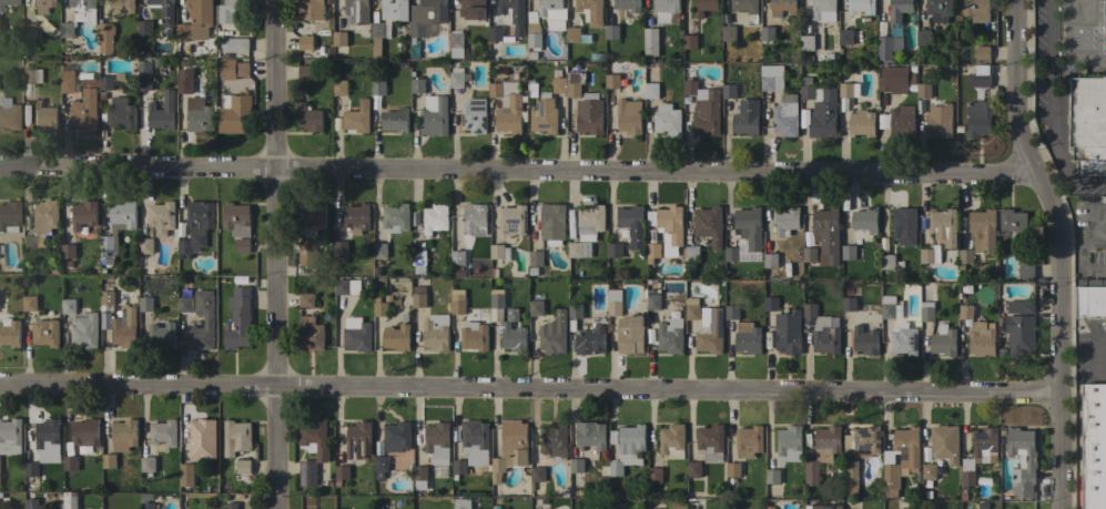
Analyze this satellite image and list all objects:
building: (7, 3)
building: (120, 4)
building: (43, 6)
building: (589, 6)
building: (628, 6)
building: (704, 7)
building: (861, 7)
building: (747, 8)
building: (782, 8)
building: (473, 9)
building: (899, 9)
building: (163, 10)
building: (232, 10)
building: (311, 10)
building: (394, 10)
building: (666, 10)
building: (823, 10)
building: (940, 10)
building: (977, 10)
building: (357, 11)
building: (552, 13)
building: (514, 14)
building: (427, 16)
building: (79, 17)
road: (1048, 20)
building: (196, 21)
building: (1104, 27)
building: (144, 28)
building: (28, 29)
building: (611, 32)
building: (729, 33)
building: (768, 33)
building: (498, 34)
building: (572, 34)
building: (378, 35)
building: (845, 37)
building: (105, 38)
building: (339, 38)
building: (534, 38)
building: (923, 38)
building: (689, 41)
building: (305, 43)
building: (650, 43)
building: (806, 43)
building: (235, 44)
building: (456, 44)
road: (1069, 45)
building: (887, 48)
building: (982, 53)
building: (233, 69)
building: (305, 72)
building: (31, 75)
building: (144, 75)
building: (456, 78)
building: (771, 78)
building: (893, 80)
building: (611, 81)
building: (67, 82)
building: (105, 83)
building: (576, 83)
building: (417, 85)
building: (559, 85)
building: (183, 86)
building: (339, 88)
building: (378, 88)
building: (806, 89)
building: (848, 89)
building: (495, 90)
building: (923, 90)
building: (651, 91)
building: (729, 91)
rooftop solar panel: (475, 102)
building: (978, 104)
rooftop solar panel: (476, 109)
building: (703, 109)
building: (84, 110)
building: (9, 113)
building: (121, 113)
building: (162, 113)
building: (235, 114)
building: (544, 114)
building: (589, 114)
building: (823, 114)
building: (43, 115)
building: (474, 115)
building: (509, 115)
building: (785, 115)
building: (434, 116)
building: (629, 116)
building: (357, 118)
building: (747, 118)
building: (310, 119)
building: (200, 120)
building: (395, 120)
rooftop solar panel: (463, 120)
building: (668, 120)
building: (899, 122)
rooftop solar panel: (484, 123)
building: (862, 123)
building: (938, 123)
building: (1088, 124)
rooftop solar panel: (468, 125)
road: (1053, 129)
rooftop solar panel: (478, 131)
road: (516, 173)
building: (1104, 200)
building: (83, 215)
building: (9, 216)
building: (122, 216)
building: (311, 217)
building: (356, 218)
building: (395, 218)
building: (435, 218)
building: (236, 220)
building: (475, 220)
building: (162, 221)
building: (513, 221)
building: (865, 221)
building: (590, 222)
building: (785, 222)
building: (824, 222)
building: (903, 222)
building: (1013, 223)
building: (41, 224)
building: (632, 224)
building: (668, 224)
building: (552, 225)
building: (709, 225)
building: (749, 226)
building: (943, 226)
building: (195, 227)
building: (1105, 230)
building: (983, 231)
road: (1103, 238)
building: (242, 245)
building: (145, 246)
building: (339, 247)
building: (106, 250)
building: (579, 250)
building: (613, 250)
road: (1055, 250)
building: (68, 251)
building: (379, 251)
building: (652, 251)
building: (308, 252)
building: (500, 252)
building: (848, 252)
road: (277, 254)
building: (692, 254)
building: (731, 254)
building: (809, 254)
building: (930, 255)
building: (965, 256)
road: (1078, 256)
building: (457, 257)
building: (536, 258)
building: (418, 261)
building: (770, 261)
building: (887, 262)
building: (1026, 271)
building: (456, 274)
building: (494, 274)
building: (346, 286)
building: (418, 297)
building: (106, 298)
building: (1090, 298)
building: (305, 299)
building: (652, 299)
building: (497, 301)
building: (1, 303)
building: (29, 303)
building: (615, 303)
building: (145, 304)
building: (457, 304)
building: (770, 304)
building: (849, 304)
building: (68, 306)
building: (536, 306)
building: (1022, 306)
building: (379, 308)
building: (890, 308)
building: (692, 309)
building: (575, 311)
building: (809, 311)
building: (731, 312)
building: (926, 312)
building: (965, 312)
building: (510, 315)
rooftop solar panel: (712, 317)
building: (209, 318)
building: (237, 319)
rooftop solar panel: (720, 327)
rooftop solar panel: (714, 329)
building: (124, 330)
building: (710, 330)
building: (85, 332)
building: (9, 333)
building: (45, 333)
building: (436, 333)
building: (788, 333)
building: (311, 334)
building: (630, 334)
building: (162, 335)
building: (356, 335)
building: (552, 335)
building: (825, 335)
building: (1019, 335)
building: (474, 336)
building: (670, 336)
building: (396, 337)
building: (514, 337)
building: (748, 338)
building: (903, 339)
building: (590, 340)
building: (865, 340)
building: (943, 340)
building: (983, 344)
road: (528, 388)
building: (85, 432)
building: (163, 432)
building: (124, 435)
building: (590, 435)
building: (202, 436)
building: (10, 437)
building: (48, 437)
building: (397, 437)
building: (236, 438)
building: (437, 439)
building: (358, 440)
building: (555, 440)
building: (672, 440)
building: (864, 440)
building: (748, 441)
building: (475, 442)
building: (710, 444)
building: (789, 444)
building: (945, 444)
building: (985, 446)
building: (1094, 446)
building: (510, 448)
building: (628, 448)
building: (312, 449)
building: (822, 452)
building: (900, 458)
building: (109, 460)
building: (1022, 461)
building: (69, 464)
building: (148, 465)
building: (380, 465)
building: (576, 466)
building: (243, 467)
building: (459, 467)
building: (31, 469)
building: (694, 469)
building: (733, 469)
building: (929, 470)
building: (850, 471)
building: (342, 472)
building: (420, 472)
building: (185, 475)
building: (537, 475)
building: (655, 475)
building: (772, 476)
building: (966, 479)
building: (461, 503)
building: (31, 505)
building: (148, 506)
building: (232, 506)
building: (770, 507)
building: (826, 507)
building: (70, 508)

